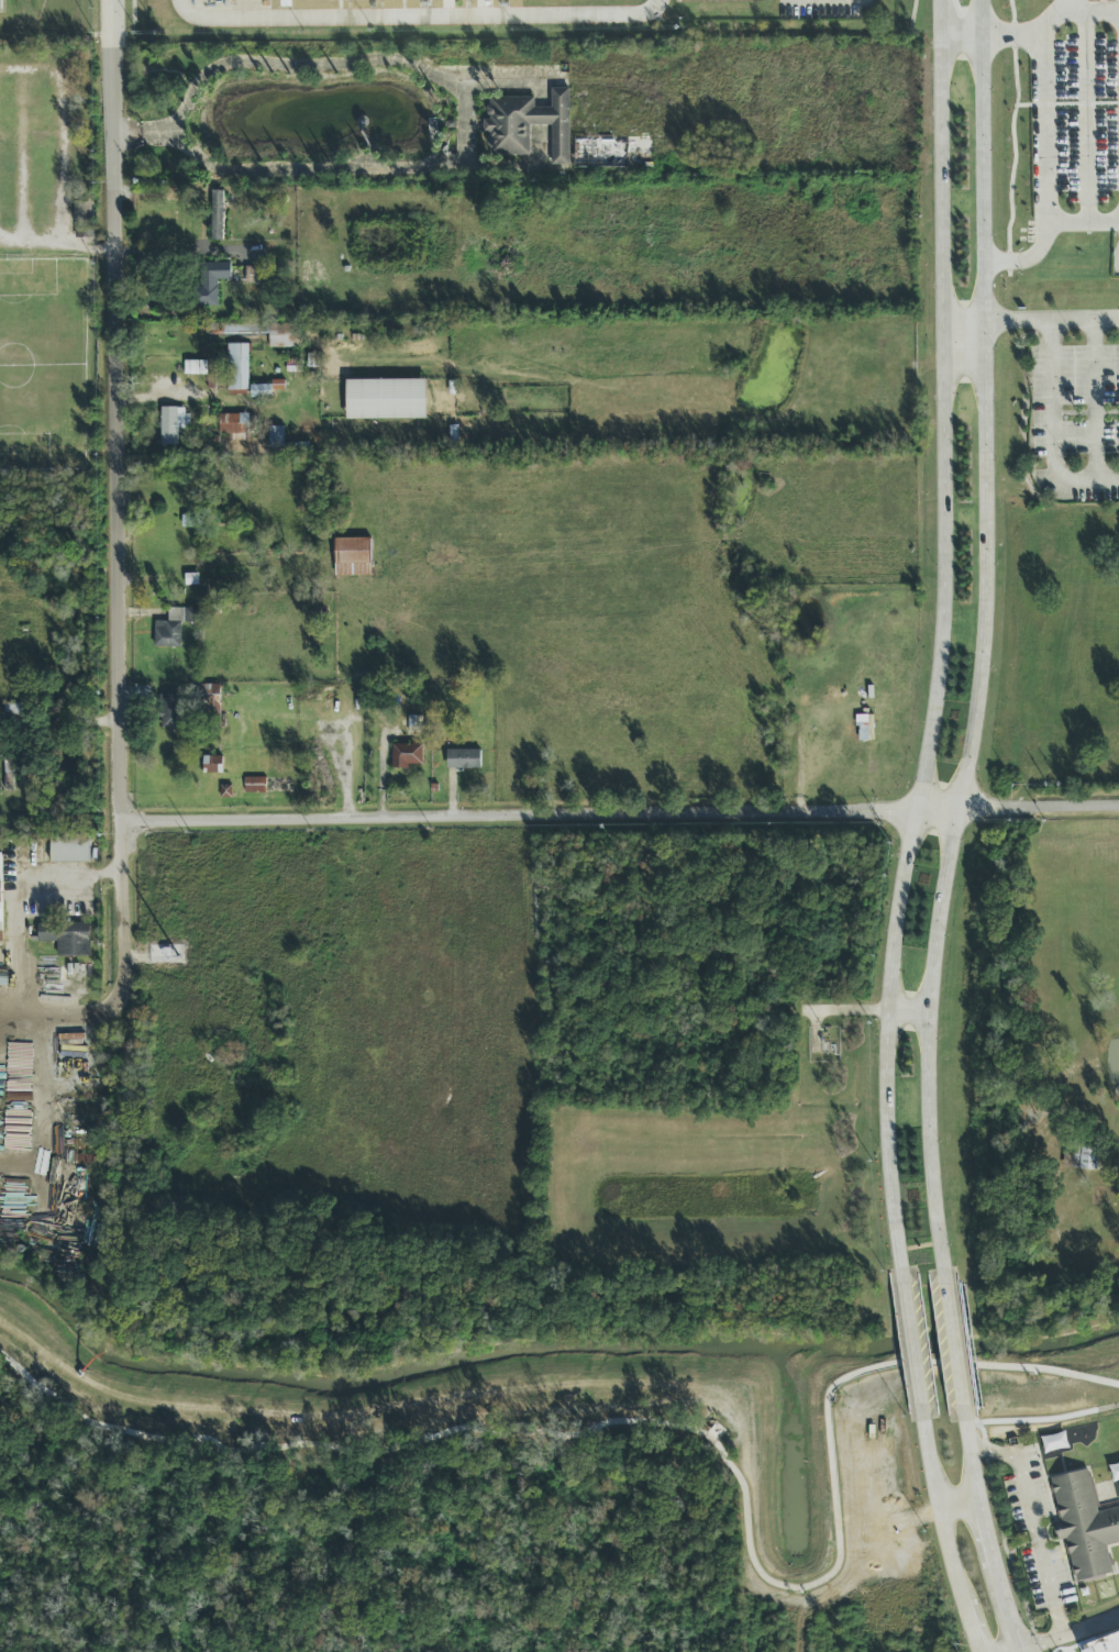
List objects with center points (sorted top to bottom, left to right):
building: (479, 0)
building: (706, 0)
road: (787, 0)
road: (810, 0)
road: (842, 0)
road: (871, 0)
road: (830, 1)
building: (0, 5)
road: (1101, 13)
road: (417, 18)
road: (938, 18)
road: (1055, 18)
road: (959, 35)
road: (1086, 110)
building: (529, 124)
road: (59, 132)
road: (1043, 145)
building: (613, 152)
road: (22, 156)
building: (218, 215)
building: (82, 220)
road: (1083, 225)
road: (32, 242)
road: (87, 247)
building: (257, 274)
building: (208, 281)
road: (962, 321)
road: (1051, 321)
building: (388, 330)
building: (411, 332)
building: (259, 333)
building: (237, 367)
building: (195, 368)
building: (265, 389)
building: (386, 399)
road: (1094, 401)
building: (173, 424)
building: (234, 426)
road: (1052, 429)
building: (276, 437)
building: (352, 557)
building: (174, 628)
road: (983, 635)
road: (939, 655)
road: (115, 664)
building: (173, 712)
road: (58, 722)
building: (414, 724)
building: (407, 755)
building: (463, 760)
building: (212, 765)
building: (9, 774)
building: (255, 785)
road: (559, 813)
building: (69, 849)
building: (0, 916)
building: (67, 938)
road: (13, 947)
road: (843, 1010)
road: (906, 1010)
road: (952, 1345)
road: (911, 1346)
river: (554, 1351)
road: (1052, 1420)
road: (966, 1439)
road: (991, 1451)
road: (972, 1474)
road: (956, 1498)
park: (462, 1501)
road: (939, 1506)
building: (1084, 1526)
road: (1038, 1545)
road: (995, 1573)
road: (967, 1620)
road: (1068, 1634)
building: (1103, 1643)
road: (1017, 1651)
road: (1019, 1651)

